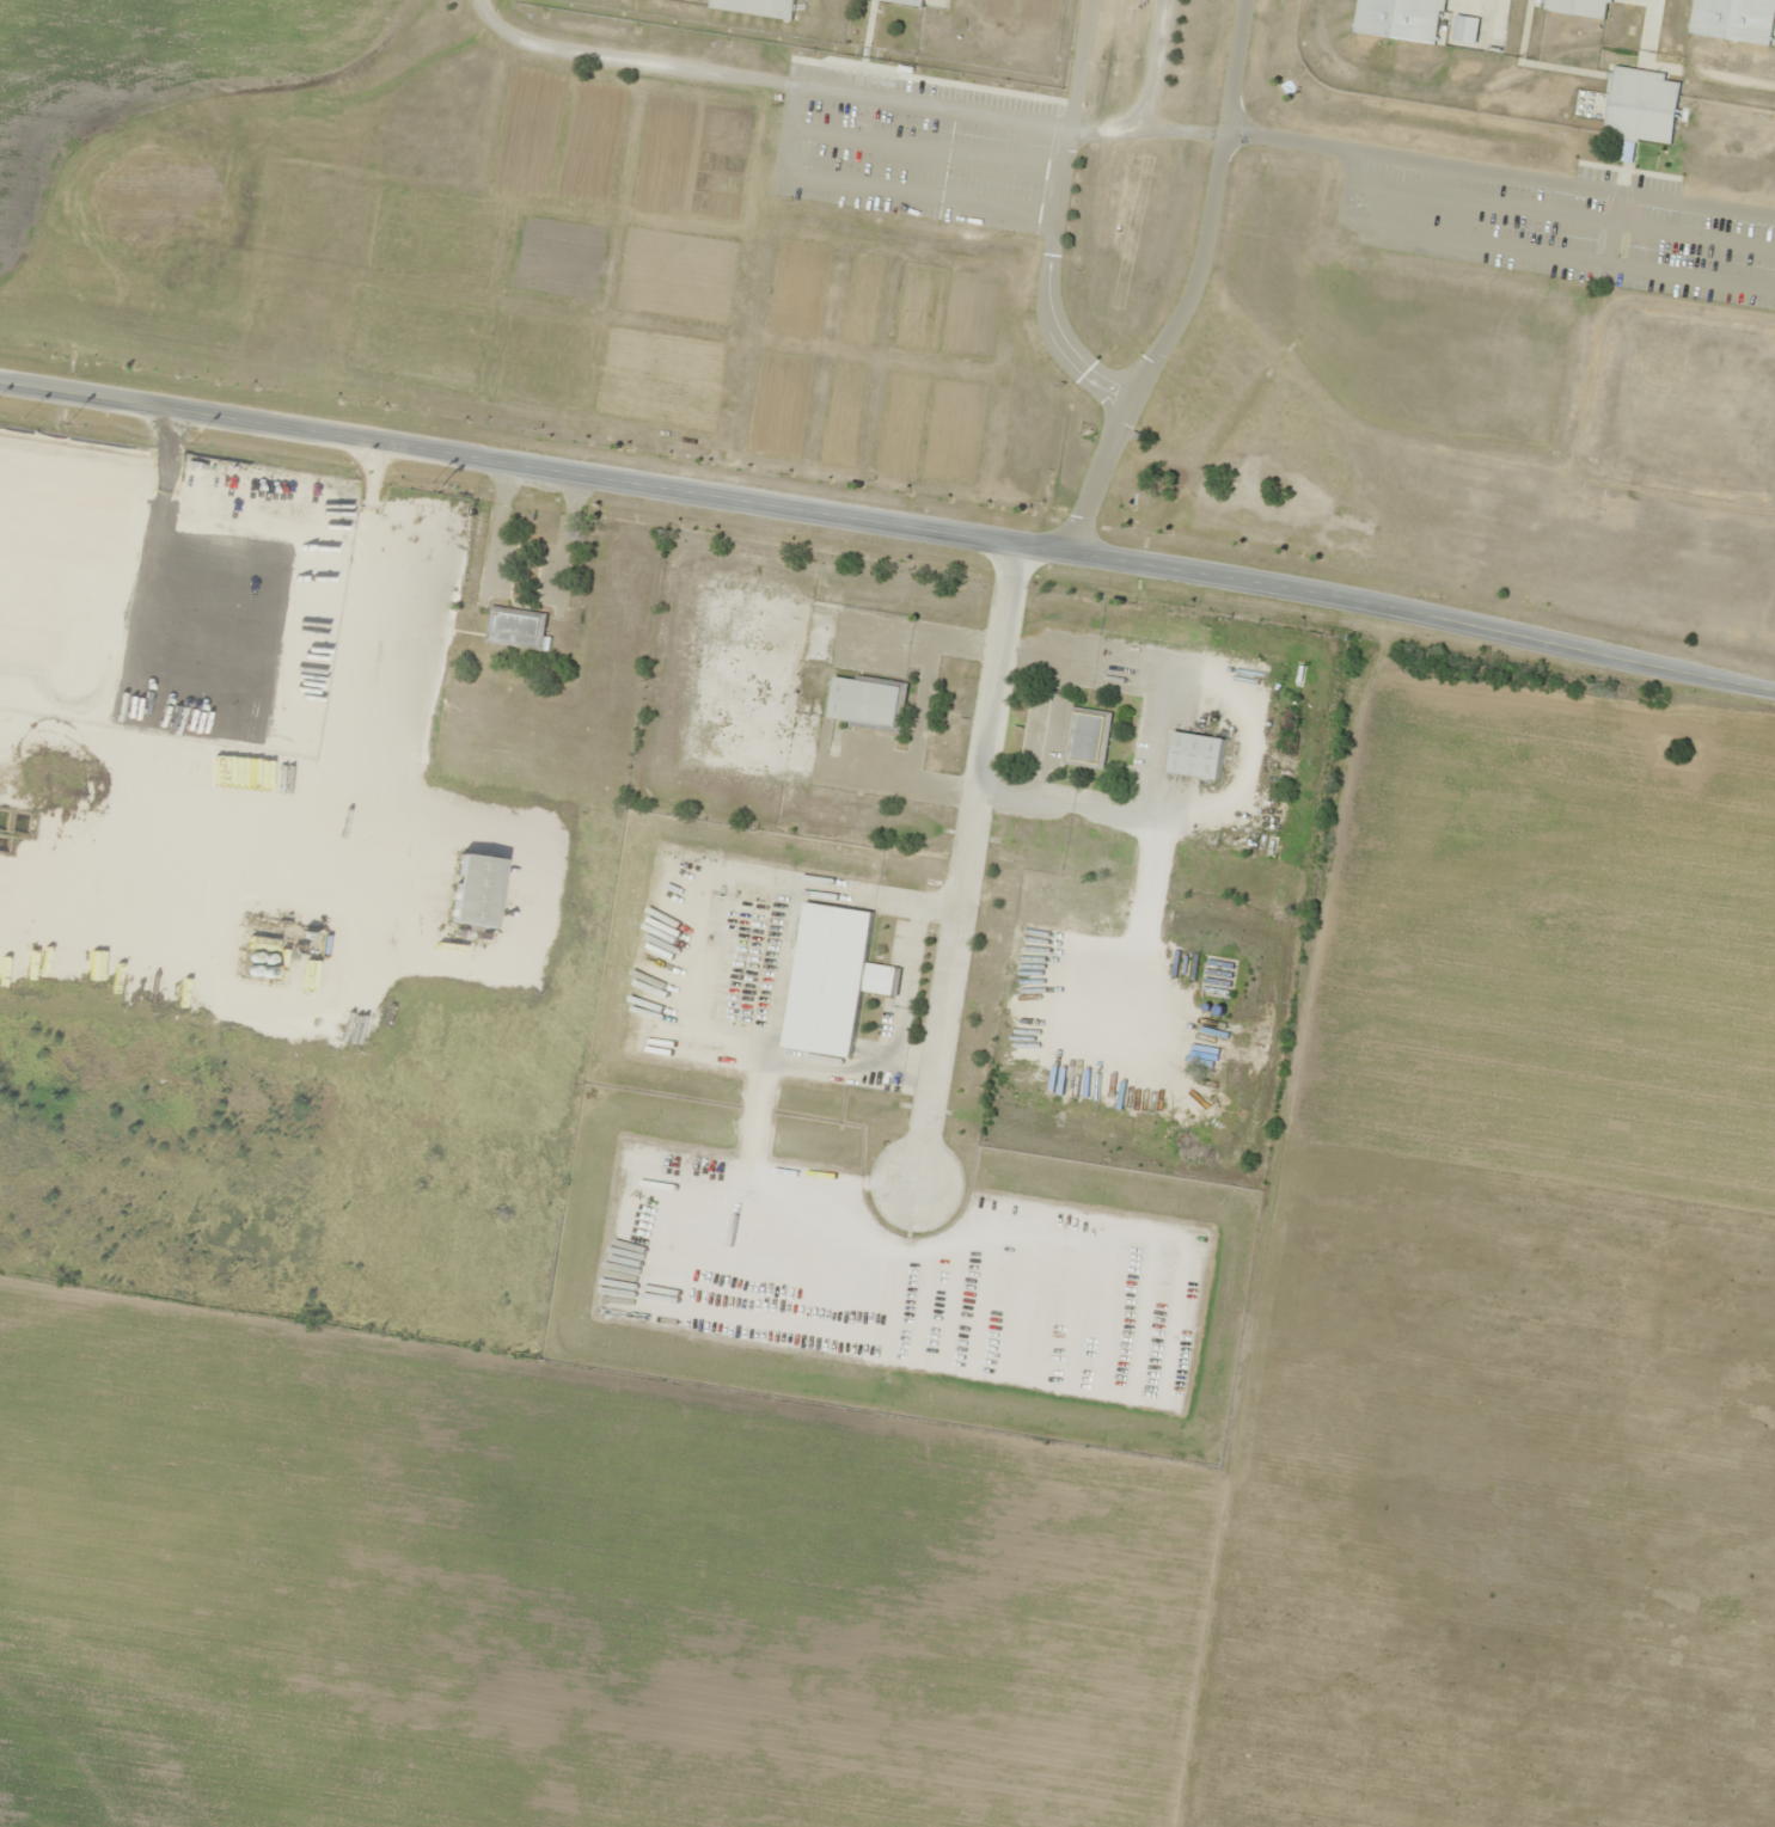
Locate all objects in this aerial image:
building: (906, 1)
building: (755, 6)
building: (1577, 6)
building: (1398, 18)
building: (1733, 19)
road: (766, 80)
road: (1140, 93)
building: (1639, 104)
road: (1445, 163)
road: (1045, 277)
road: (1189, 287)
road: (889, 522)
building: (515, 627)
building: (864, 703)
building: (1084, 737)
building: (1193, 754)
road: (962, 859)
building: (471, 890)
building: (741, 908)
building: (830, 979)

